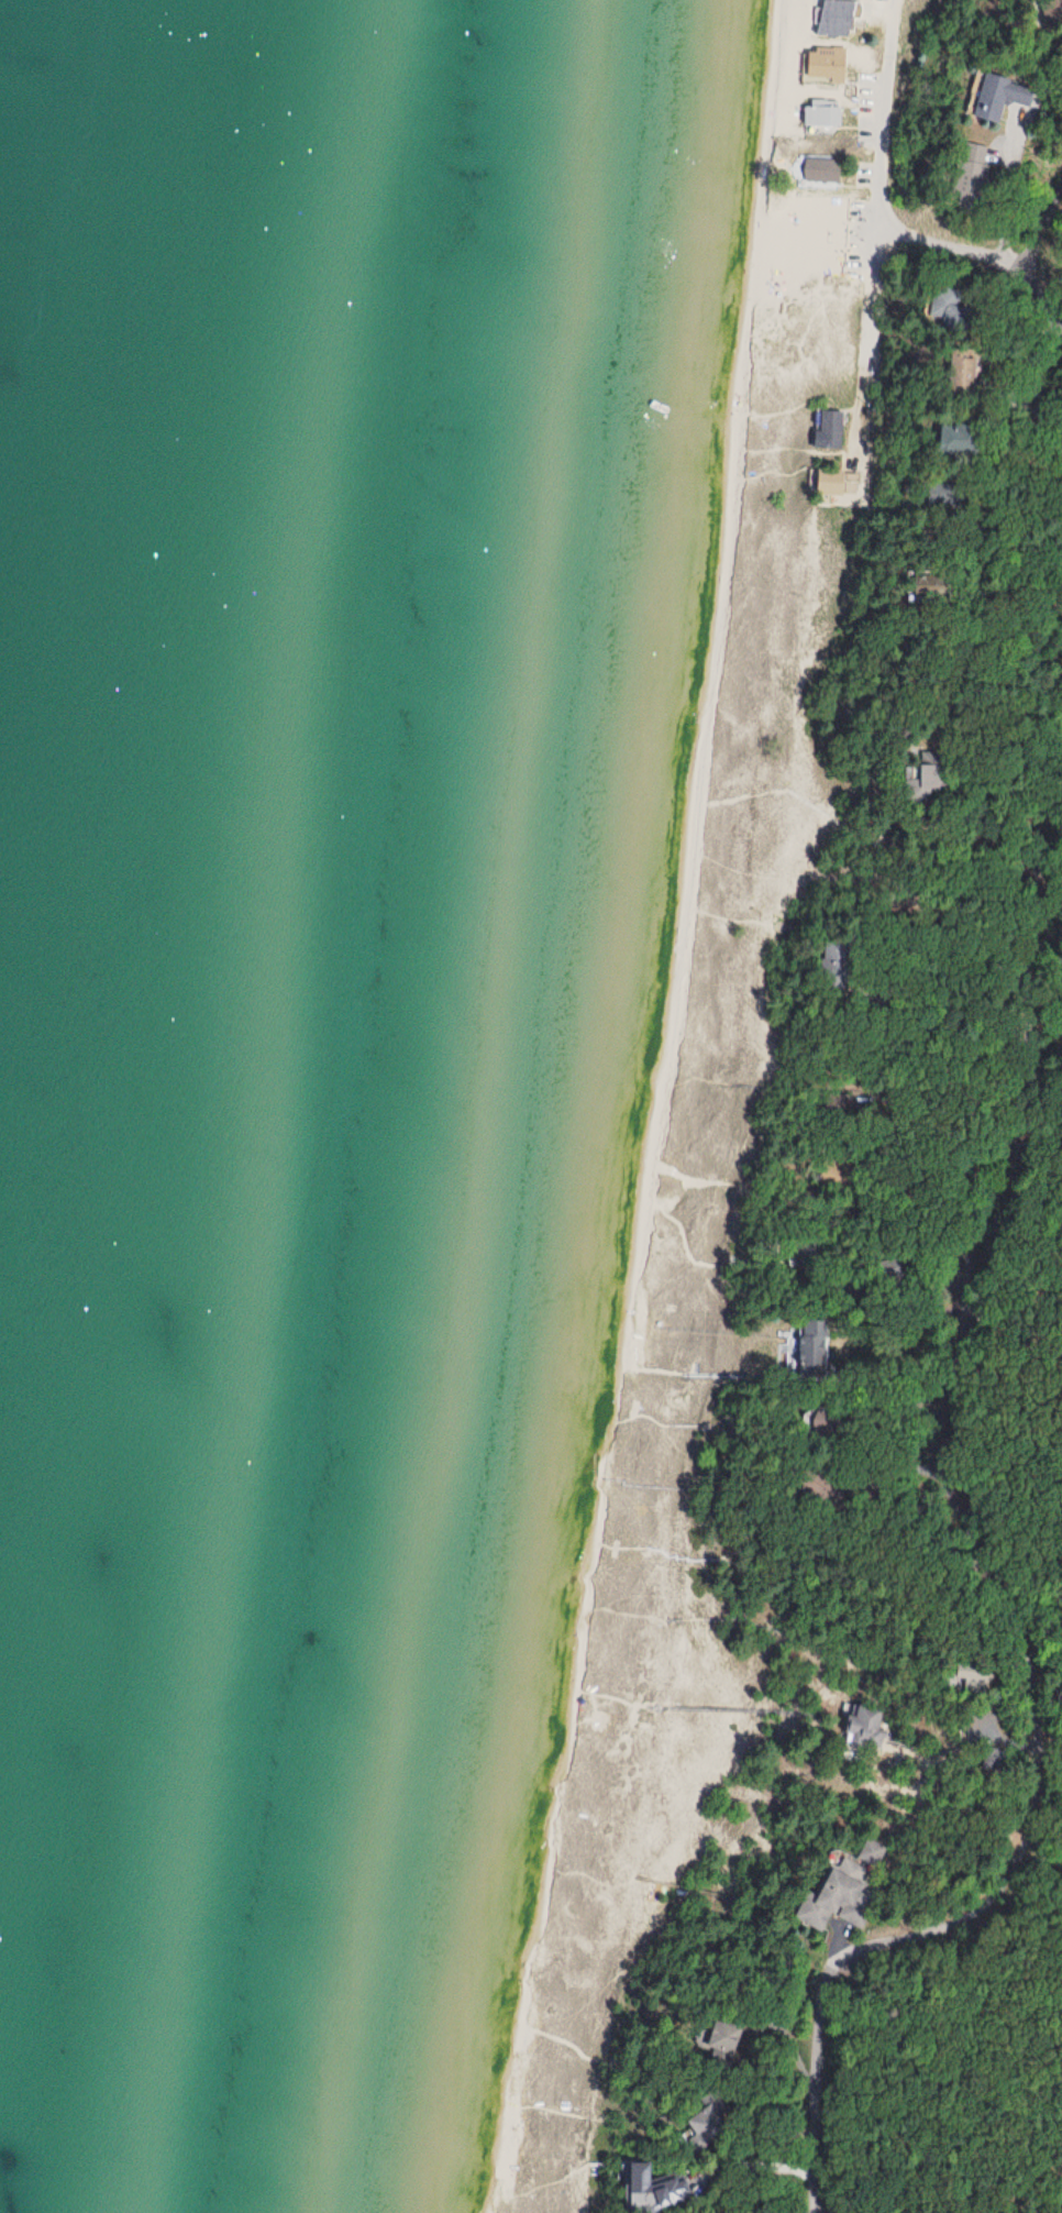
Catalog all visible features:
building: (848, 18)
building: (838, 65)
road: (881, 188)
road: (1024, 198)
road: (984, 254)
building: (831, 430)
building: (839, 483)
road: (1019, 519)
building: (936, 777)
building: (790, 1358)
road: (1011, 1621)
building: (965, 1678)
building: (845, 1722)
building: (818, 1897)

